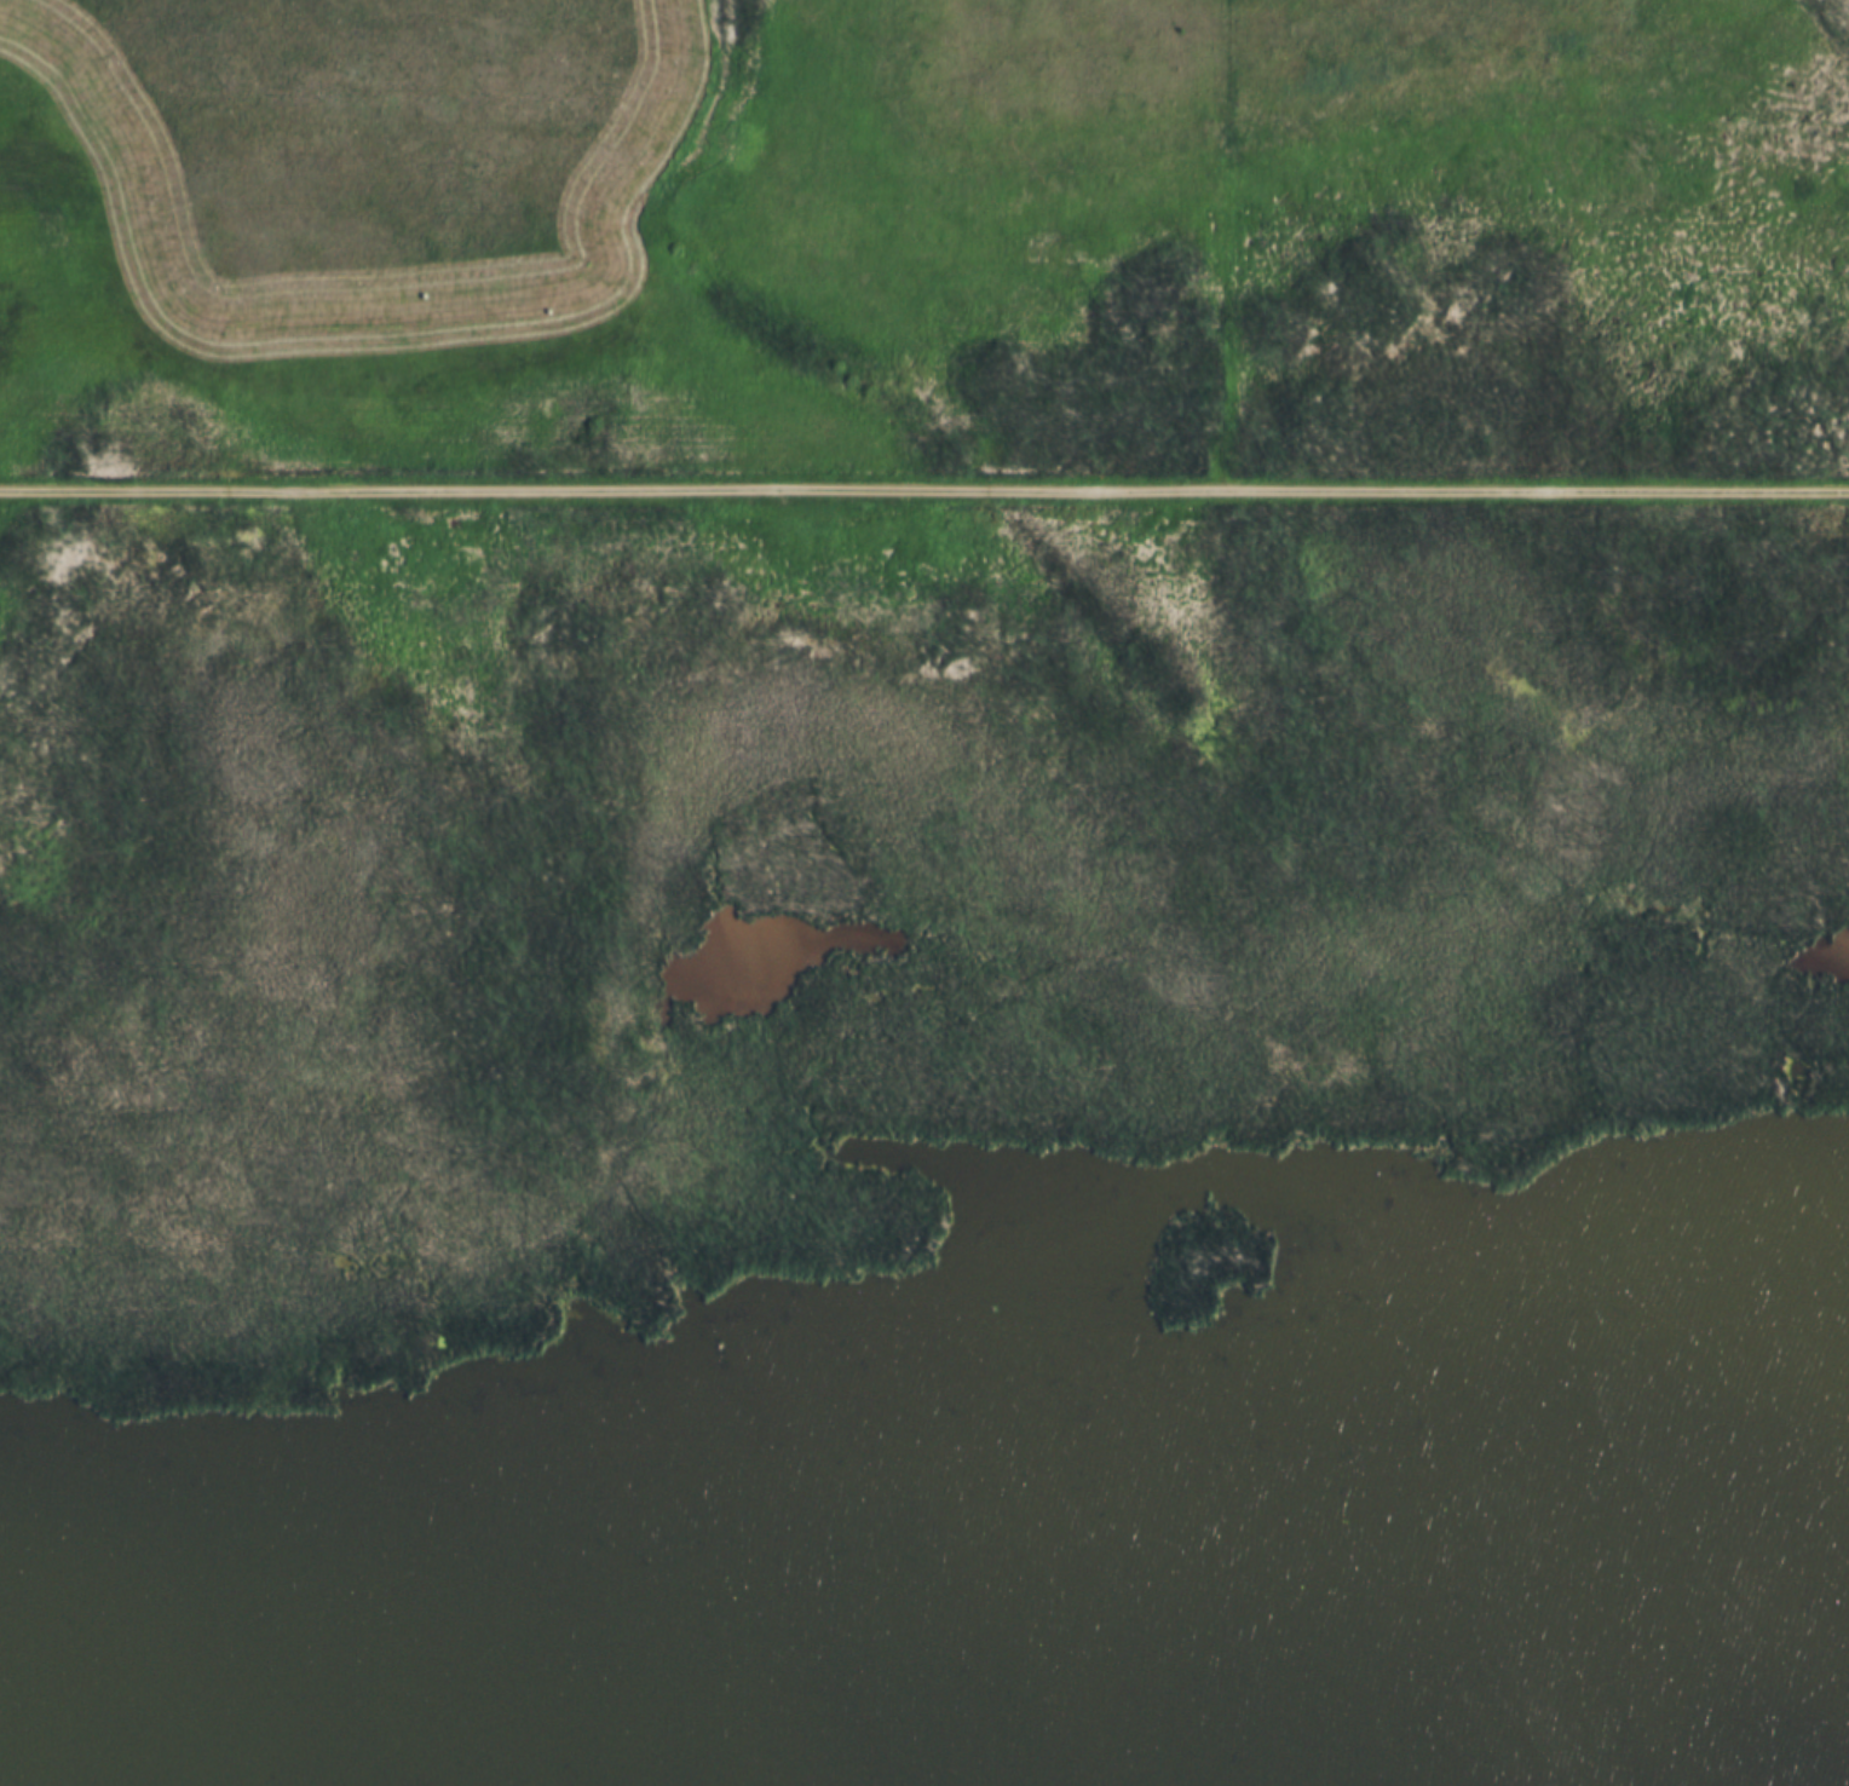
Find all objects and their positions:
road: (924, 490)

